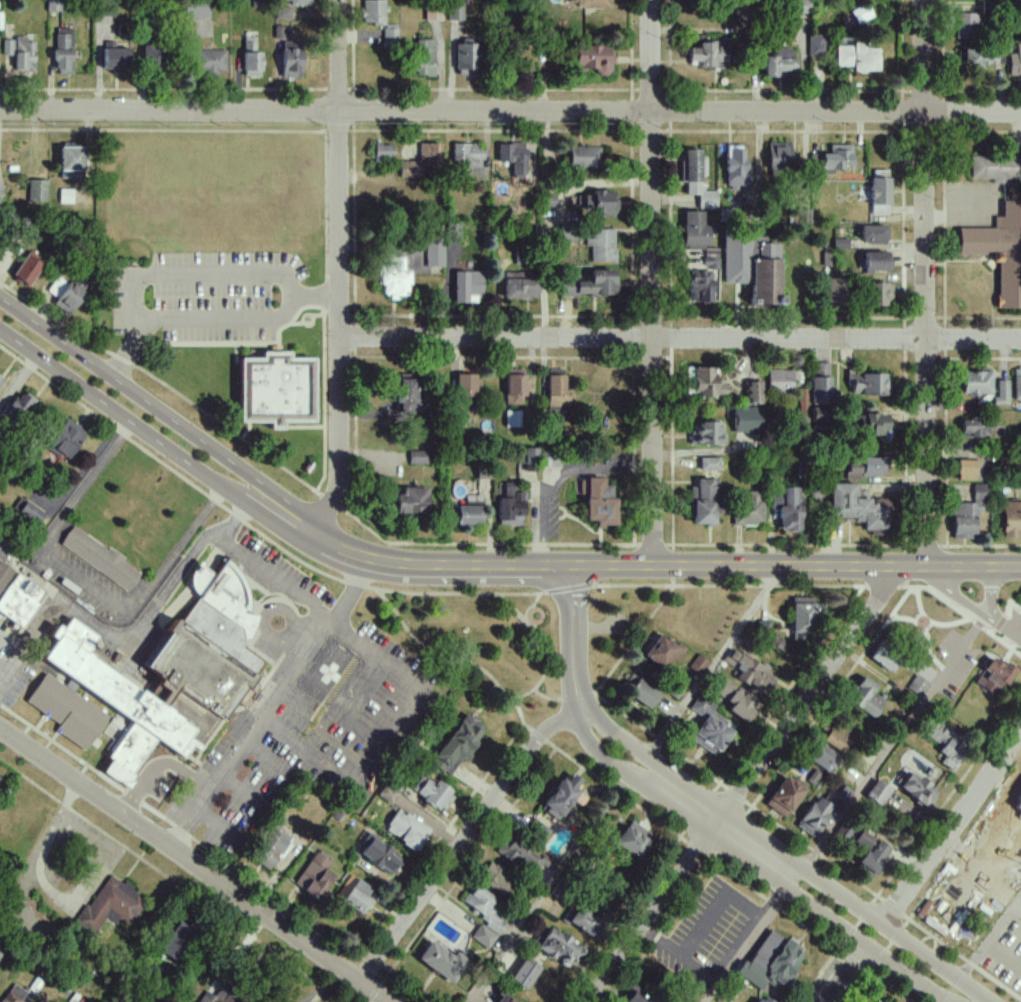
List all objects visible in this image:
building: (297, 2)
building: (590, 3)
building: (196, 8)
building: (455, 11)
building: (372, 12)
building: (282, 13)
building: (861, 14)
building: (966, 27)
building: (280, 33)
building: (390, 36)
building: (816, 45)
building: (7, 47)
building: (63, 51)
building: (23, 54)
building: (712, 54)
building: (152, 56)
building: (250, 58)
building: (424, 58)
building: (856, 58)
building: (114, 59)
building: (290, 59)
building: (593, 59)
building: (210, 61)
building: (780, 63)
building: (1015, 63)
road: (510, 110)
road: (159, 131)
building: (382, 152)
building: (513, 157)
building: (583, 157)
building: (70, 158)
building: (779, 158)
building: (833, 158)
building: (466, 160)
building: (423, 162)
building: (735, 167)
building: (995, 168)
building: (69, 175)
building: (696, 179)
building: (0, 189)
building: (36, 191)
building: (65, 196)
building: (879, 196)
building: (596, 202)
building: (695, 230)
building: (568, 233)
building: (872, 235)
building: (601, 245)
building: (999, 252)
building: (434, 255)
building: (710, 258)
building: (876, 262)
building: (752, 267)
building: (26, 268)
road: (340, 269)
building: (392, 278)
road: (193, 279)
road: (651, 282)
road: (924, 284)
building: (590, 285)
building: (519, 286)
building: (466, 287)
building: (700, 287)
building: (834, 291)
building: (66, 293)
building: (878, 295)
parking lot: (200, 300)
road: (319, 314)
road: (299, 316)
road: (205, 324)
road: (681, 337)
road: (253, 347)
road: (18, 379)
building: (0, 380)
building: (702, 382)
building: (974, 383)
building: (867, 384)
road: (158, 385)
building: (514, 387)
building: (465, 389)
building: (556, 390)
building: (820, 391)
building: (753, 392)
building: (1001, 393)
building: (408, 395)
road: (145, 398)
building: (266, 400)
building: (803, 402)
building: (20, 406)
building: (512, 418)
building: (747, 420)
building: (873, 425)
road: (137, 426)
road: (310, 428)
building: (973, 428)
building: (706, 434)
building: (64, 438)
building: (417, 457)
building: (529, 459)
building: (552, 461)
building: (708, 464)
building: (868, 468)
road: (178, 476)
building: (979, 492)
building: (703, 501)
building: (510, 506)
building: (855, 506)
building: (786, 508)
building: (748, 510)
building: (27, 512)
building: (468, 515)
building: (964, 519)
building: (1011, 520)
road: (659, 547)
building: (99, 558)
road: (252, 566)
road: (421, 566)
road: (796, 567)
building: (4, 574)
road: (83, 581)
road: (490, 590)
road: (727, 591)
road: (976, 591)
road: (956, 598)
building: (19, 599)
road: (995, 599)
road: (907, 603)
road: (527, 607)
building: (1019, 607)
road: (1018, 611)
road: (964, 615)
road: (560, 616)
building: (801, 617)
road: (258, 619)
road: (534, 623)
road: (1006, 623)
road: (916, 627)
building: (762, 629)
road: (947, 629)
road: (1005, 630)
road: (285, 634)
road: (574, 639)
park: (473, 643)
road: (930, 651)
building: (662, 652)
building: (885, 656)
road: (447, 659)
building: (697, 665)
parking lot: (951, 667)
building: (748, 670)
helipad: (328, 671)
building: (993, 675)
building: (917, 685)
building: (639, 692)
building: (145, 693)
road: (535, 697)
building: (865, 698)
building: (735, 699)
road: (806, 701)
road: (270, 703)
road: (351, 711)
road: (823, 715)
parking lot: (308, 721)
building: (708, 726)
building: (836, 739)
road: (386, 742)
road: (893, 743)
building: (456, 745)
building: (948, 746)
building: (822, 758)
road: (260, 760)
road: (1013, 762)
building: (916, 789)
building: (877, 792)
road: (1004, 792)
road: (236, 793)
building: (432, 793)
building: (387, 794)
building: (784, 796)
building: (560, 798)
parking lot: (1010, 802)
building: (1018, 805)
building: (815, 816)
road: (210, 828)
building: (406, 830)
road: (950, 830)
road: (931, 831)
building: (536, 832)
road: (463, 838)
road: (794, 839)
building: (632, 840)
building: (269, 847)
building: (377, 854)
building: (870, 854)
road: (785, 857)
road: (194, 865)
road: (753, 865)
road: (720, 867)
road: (946, 870)
building: (314, 877)
road: (792, 877)
building: (497, 878)
building: (353, 894)
building: (109, 905)
road: (1015, 915)
building: (483, 917)
road: (648, 918)
building: (584, 919)
parking lot: (706, 931)
building: (177, 941)
road: (742, 944)
road: (981, 947)
building: (558, 948)
road: (1004, 952)
parking lot: (1003, 953)
building: (441, 962)
building: (771, 962)
road: (845, 973)
building: (523, 974)
road: (324, 984)
building: (12, 994)
building: (634, 996)
building: (211, 997)
building: (764, 999)
building: (508, 1000)
building: (874, 1001)
road: (942, 1001)

